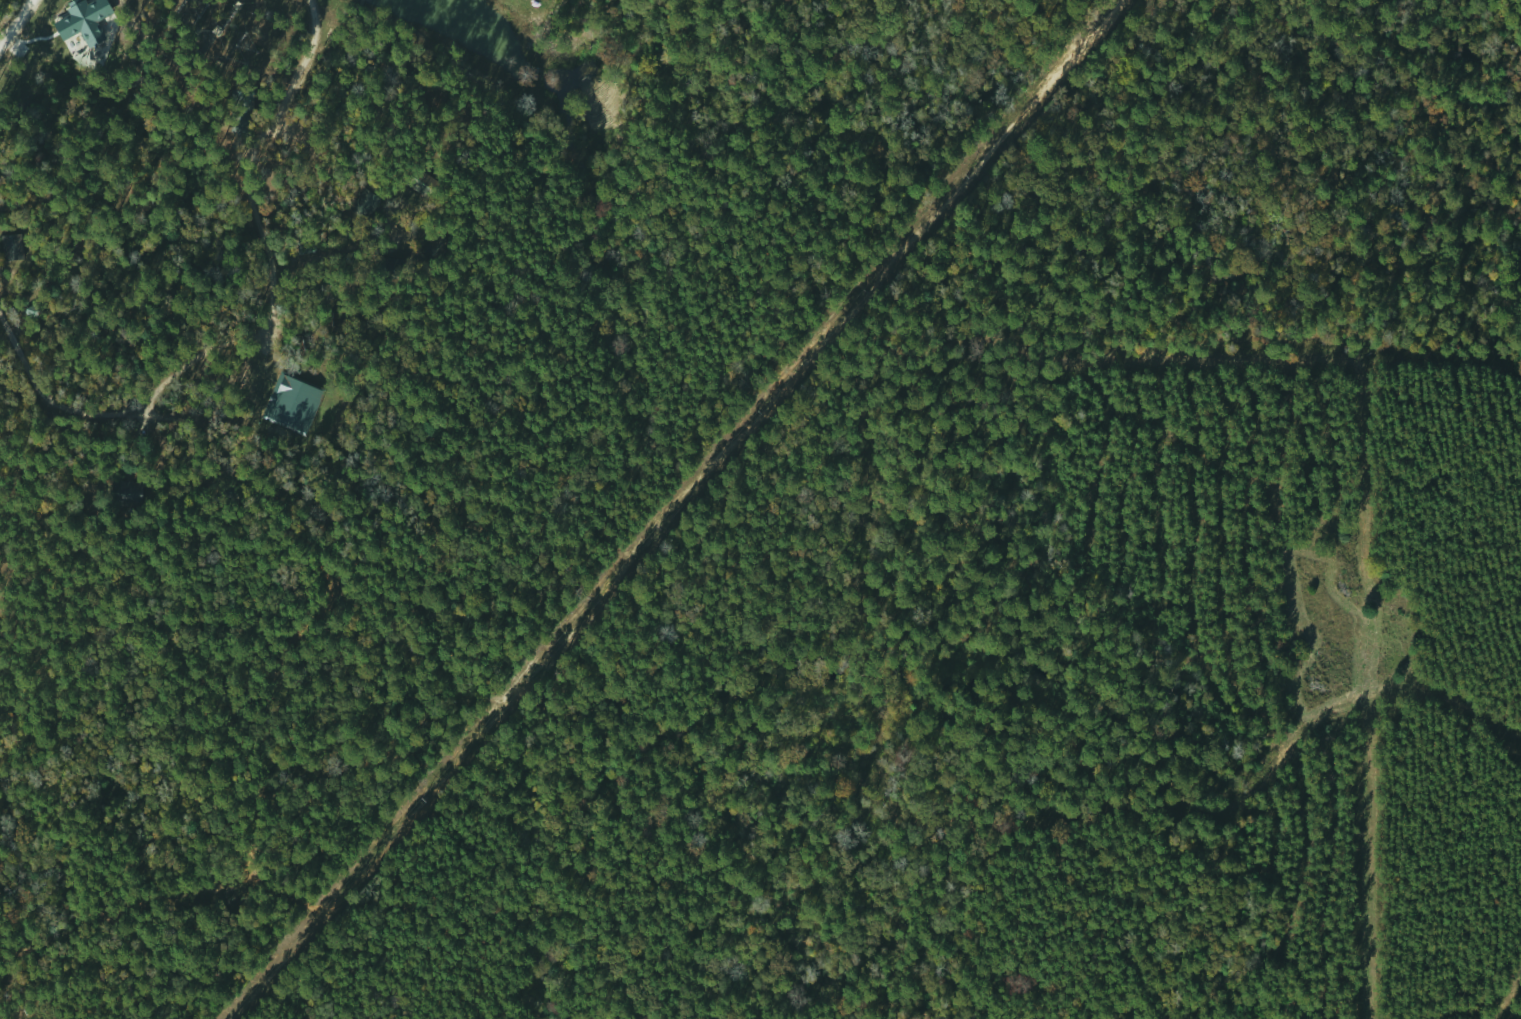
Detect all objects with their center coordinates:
road: (14, 20)
building: (241, 113)
road: (40, 206)
road: (214, 208)
building: (9, 248)
building: (434, 248)
building: (119, 493)

